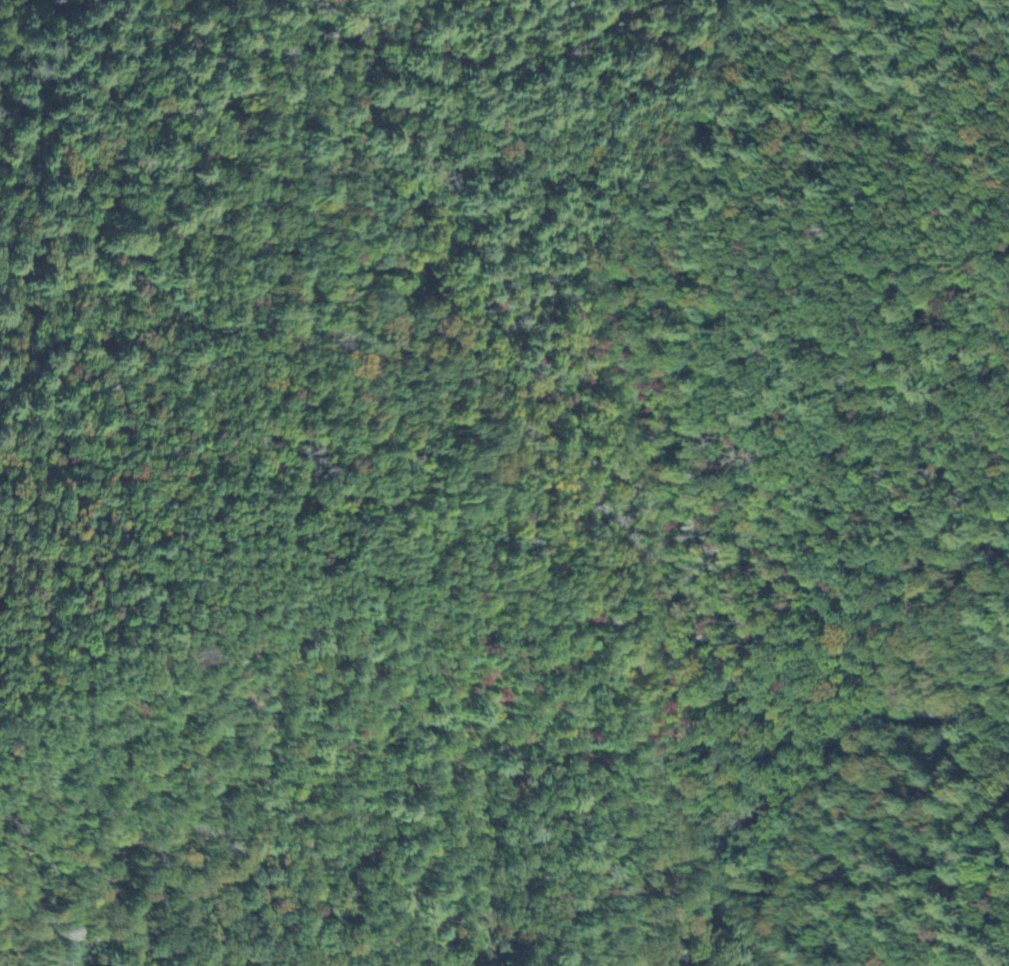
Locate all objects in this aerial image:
road: (852, 686)
road: (227, 897)
road: (436, 957)

